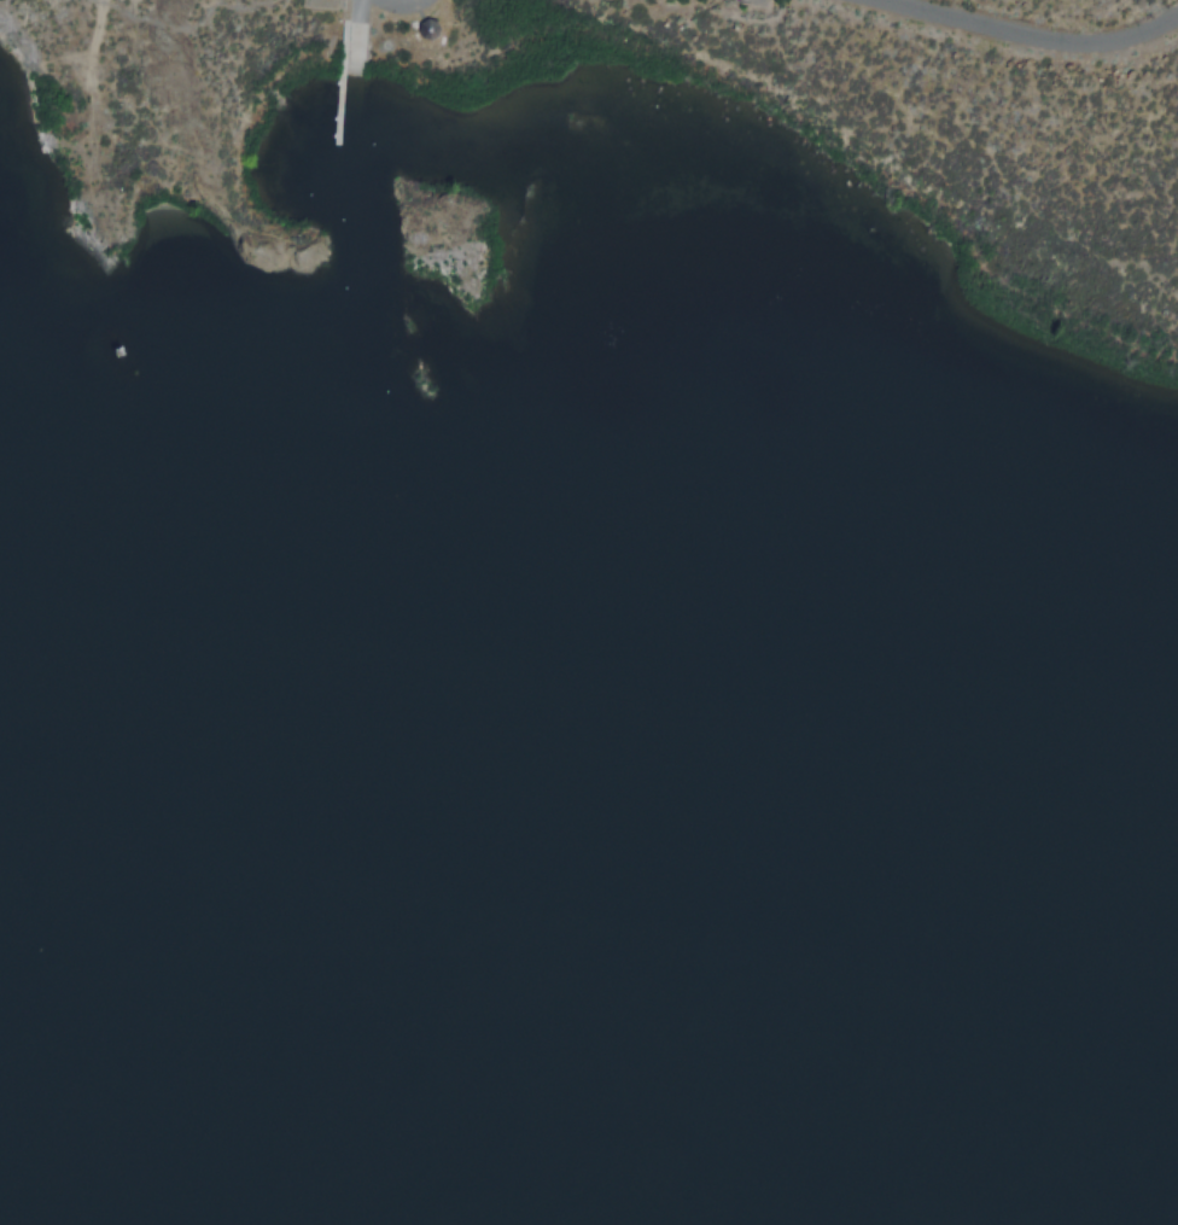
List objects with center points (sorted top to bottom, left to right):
road: (398, 2)
road: (1038, 35)
road: (354, 39)
pier: (339, 80)

